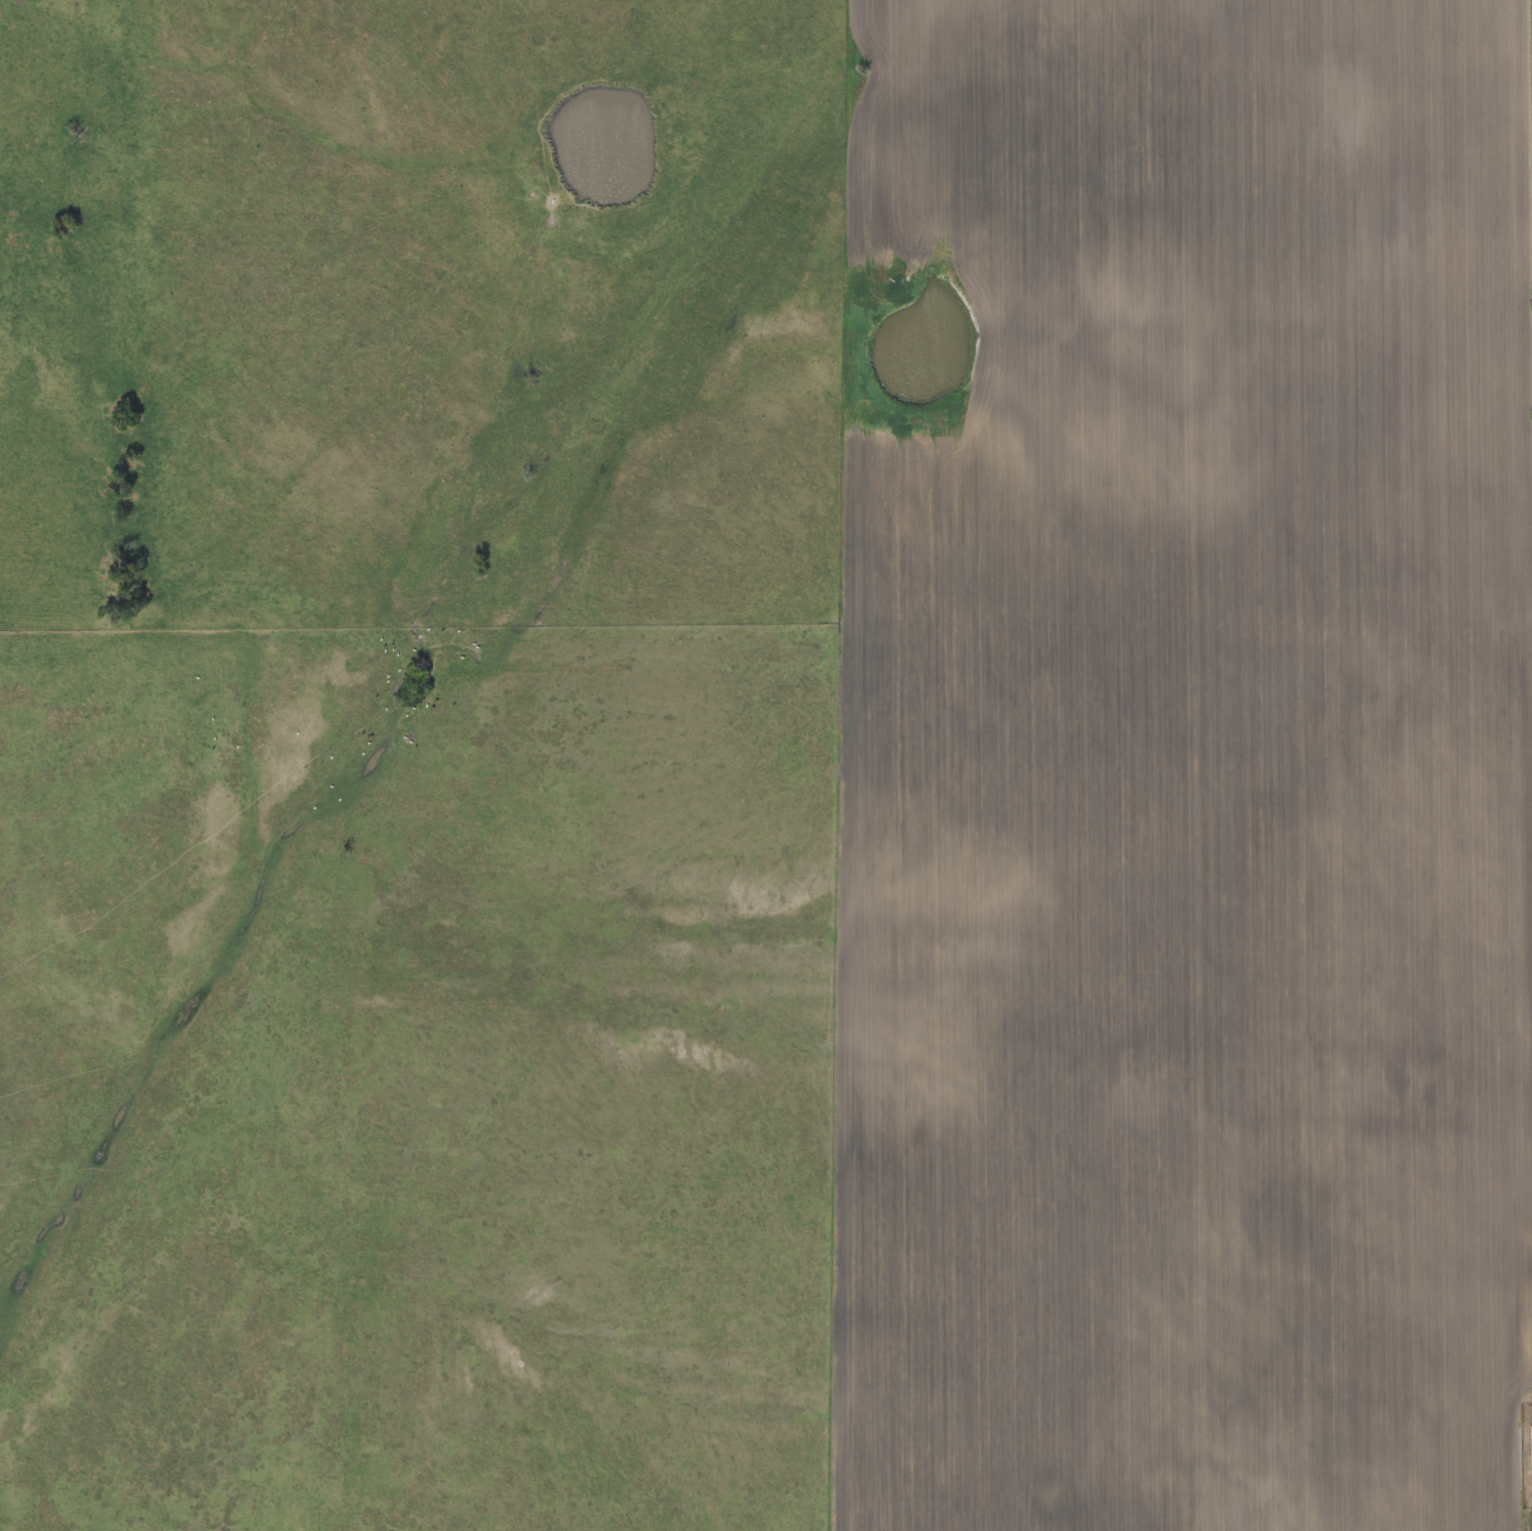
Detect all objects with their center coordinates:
building: (1530, 1456)

